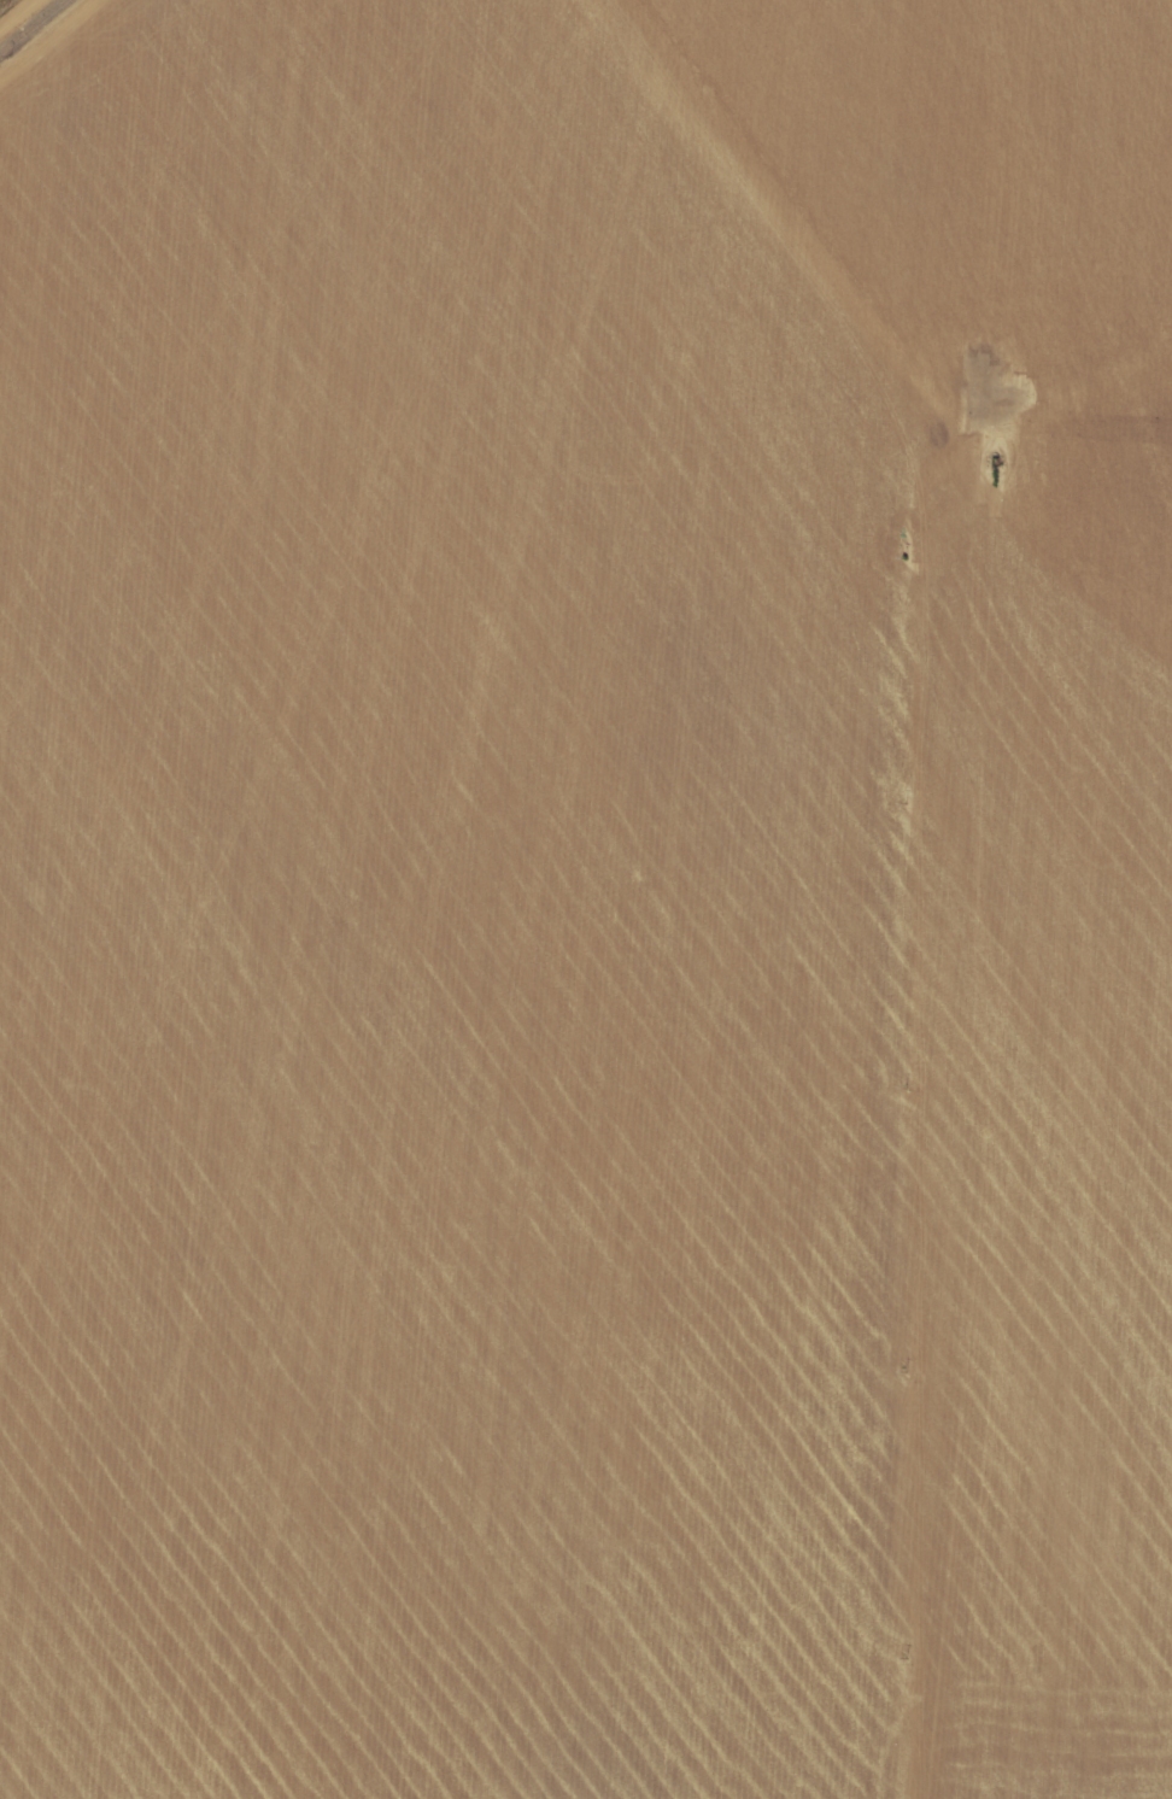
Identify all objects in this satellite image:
road: (18, 14)

